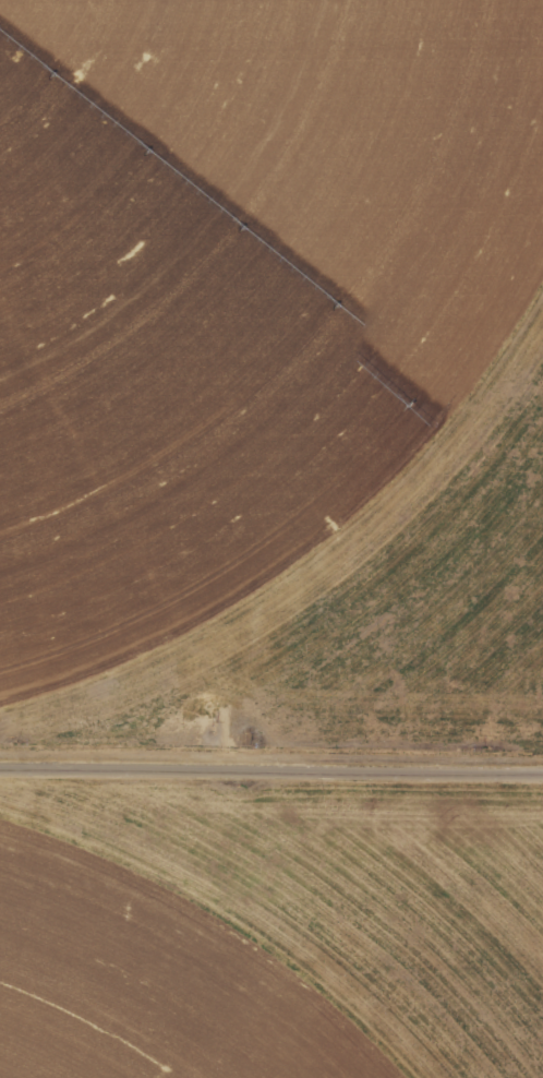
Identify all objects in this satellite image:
road: (271, 781)

